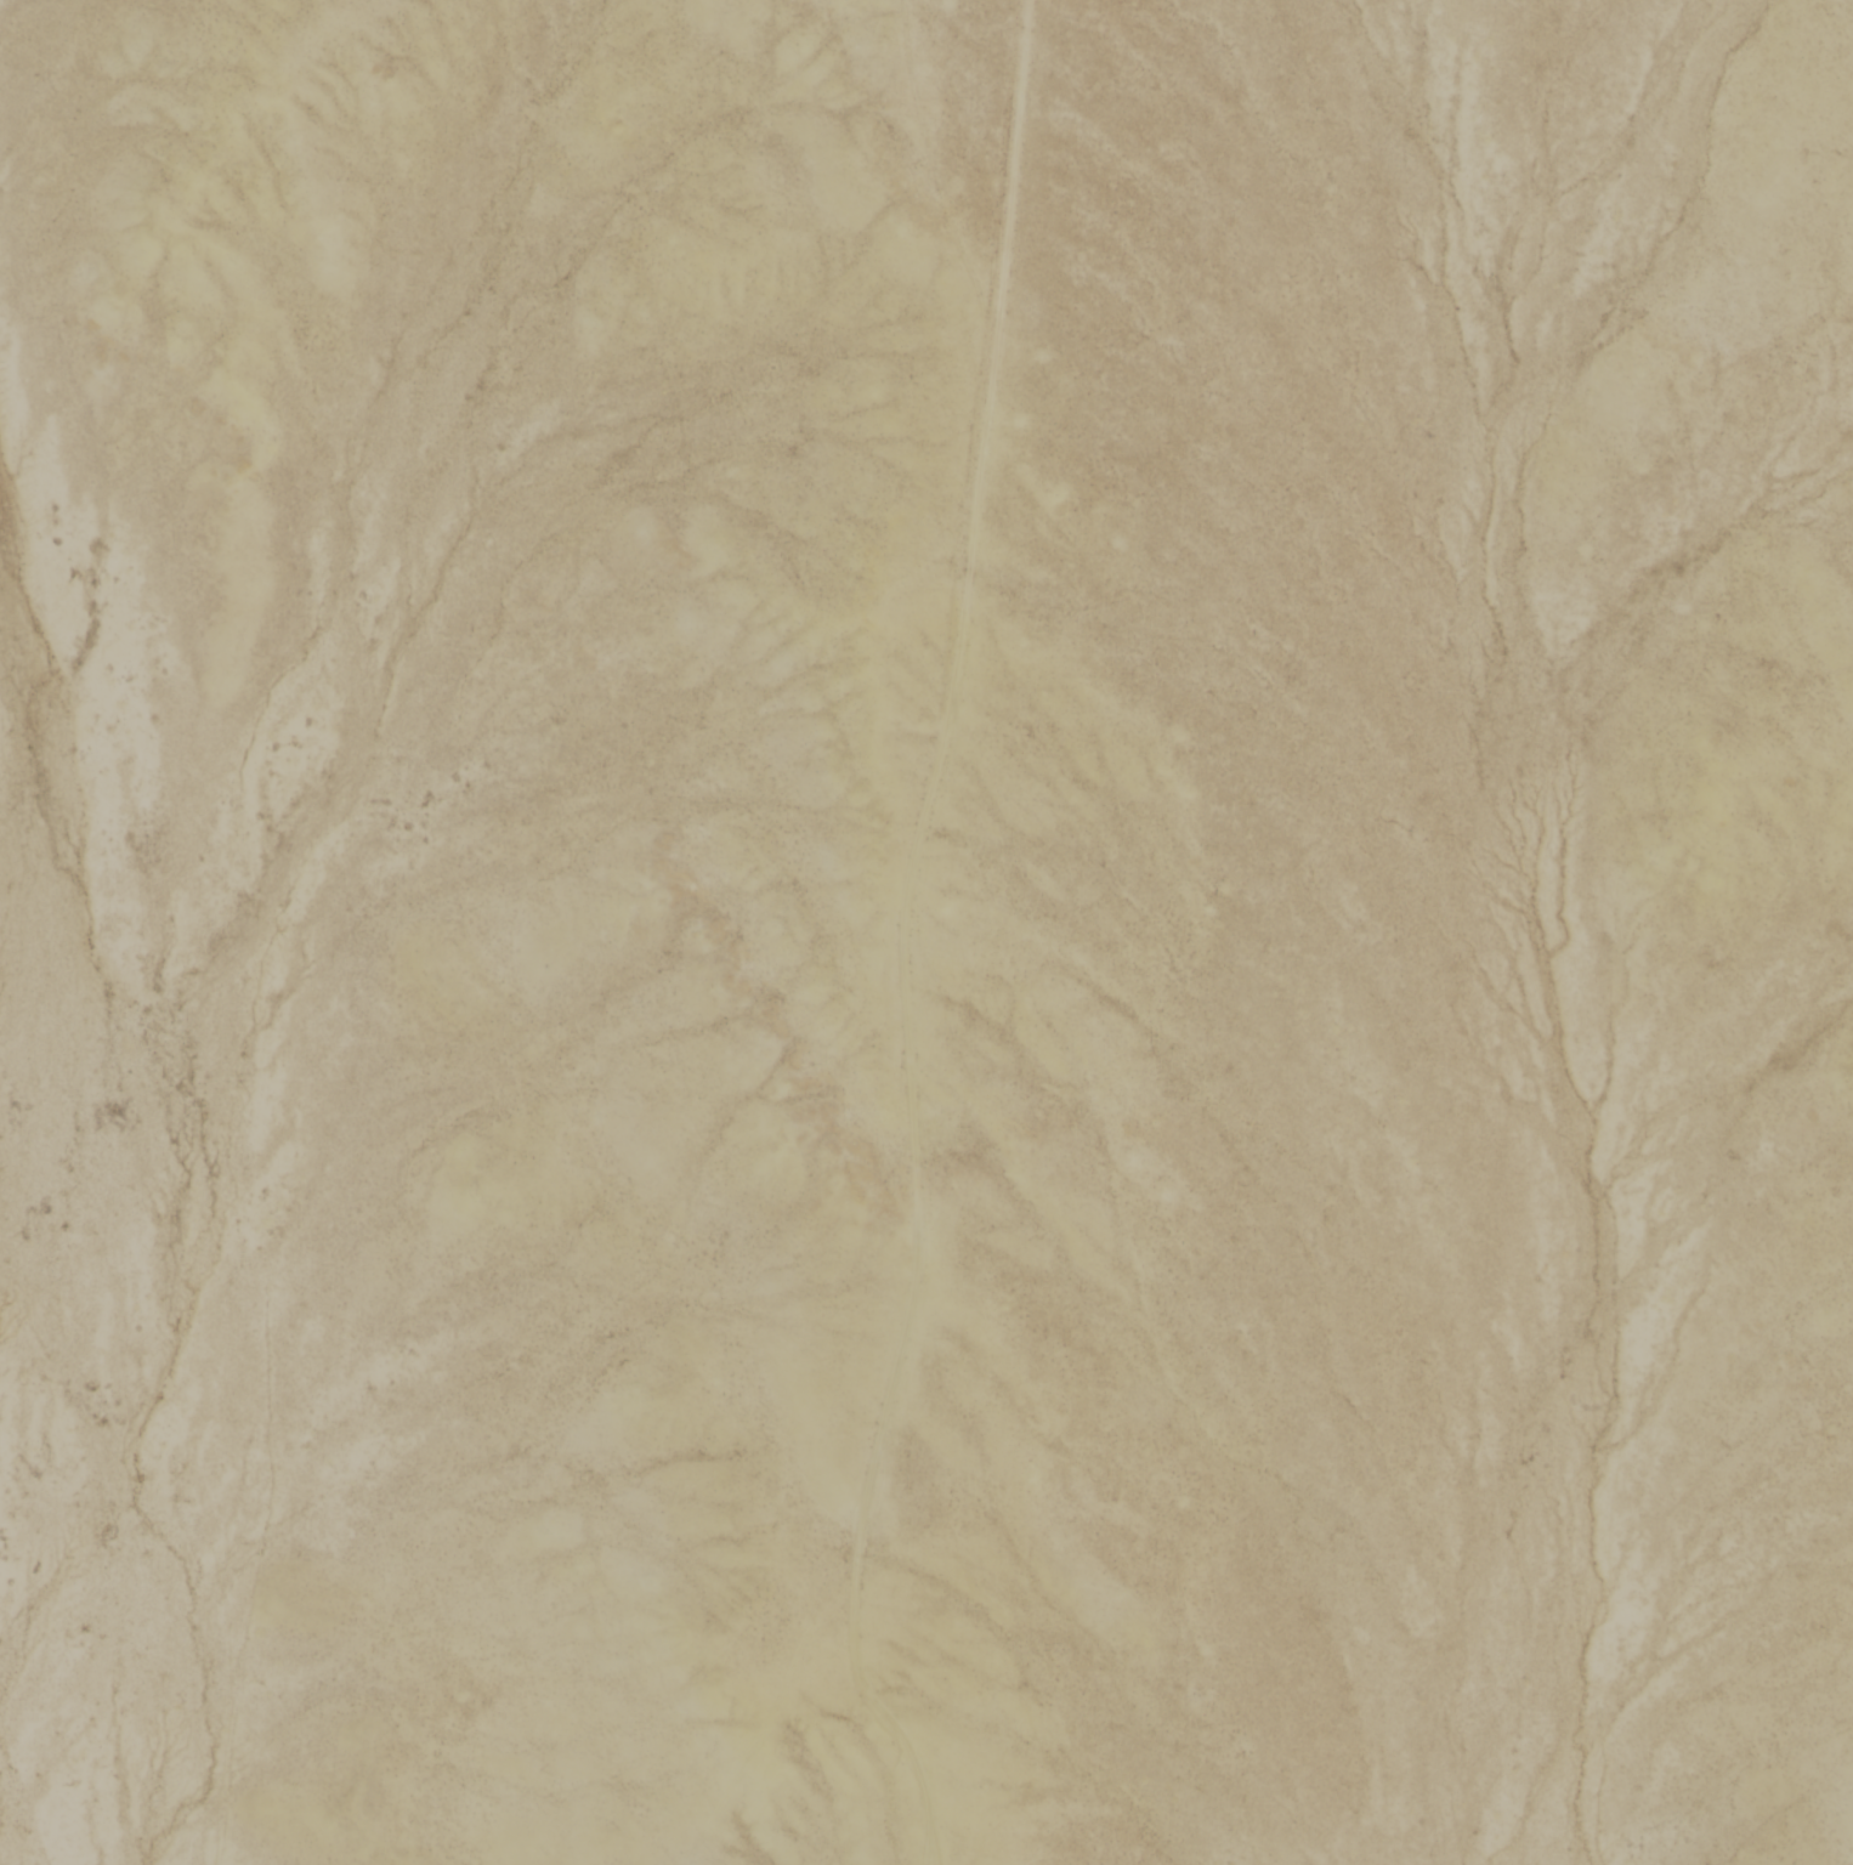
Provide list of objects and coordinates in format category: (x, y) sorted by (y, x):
road: (873, 936)

